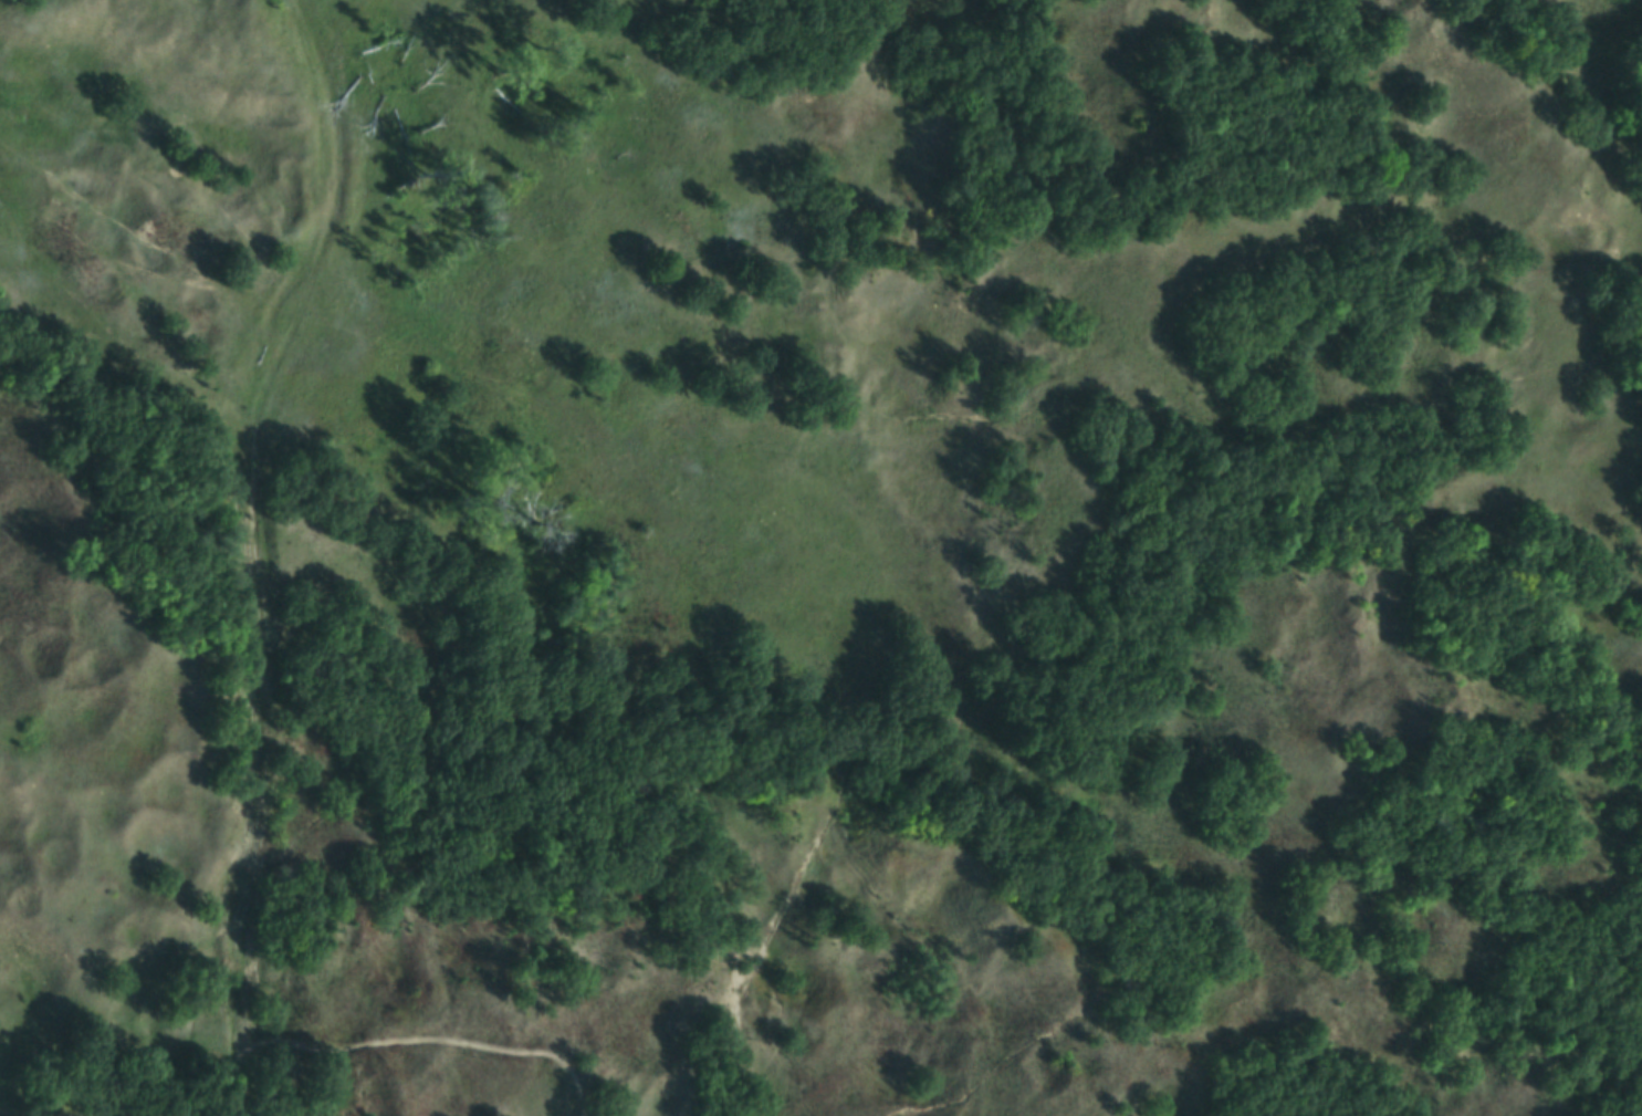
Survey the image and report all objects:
road: (307, 1055)

